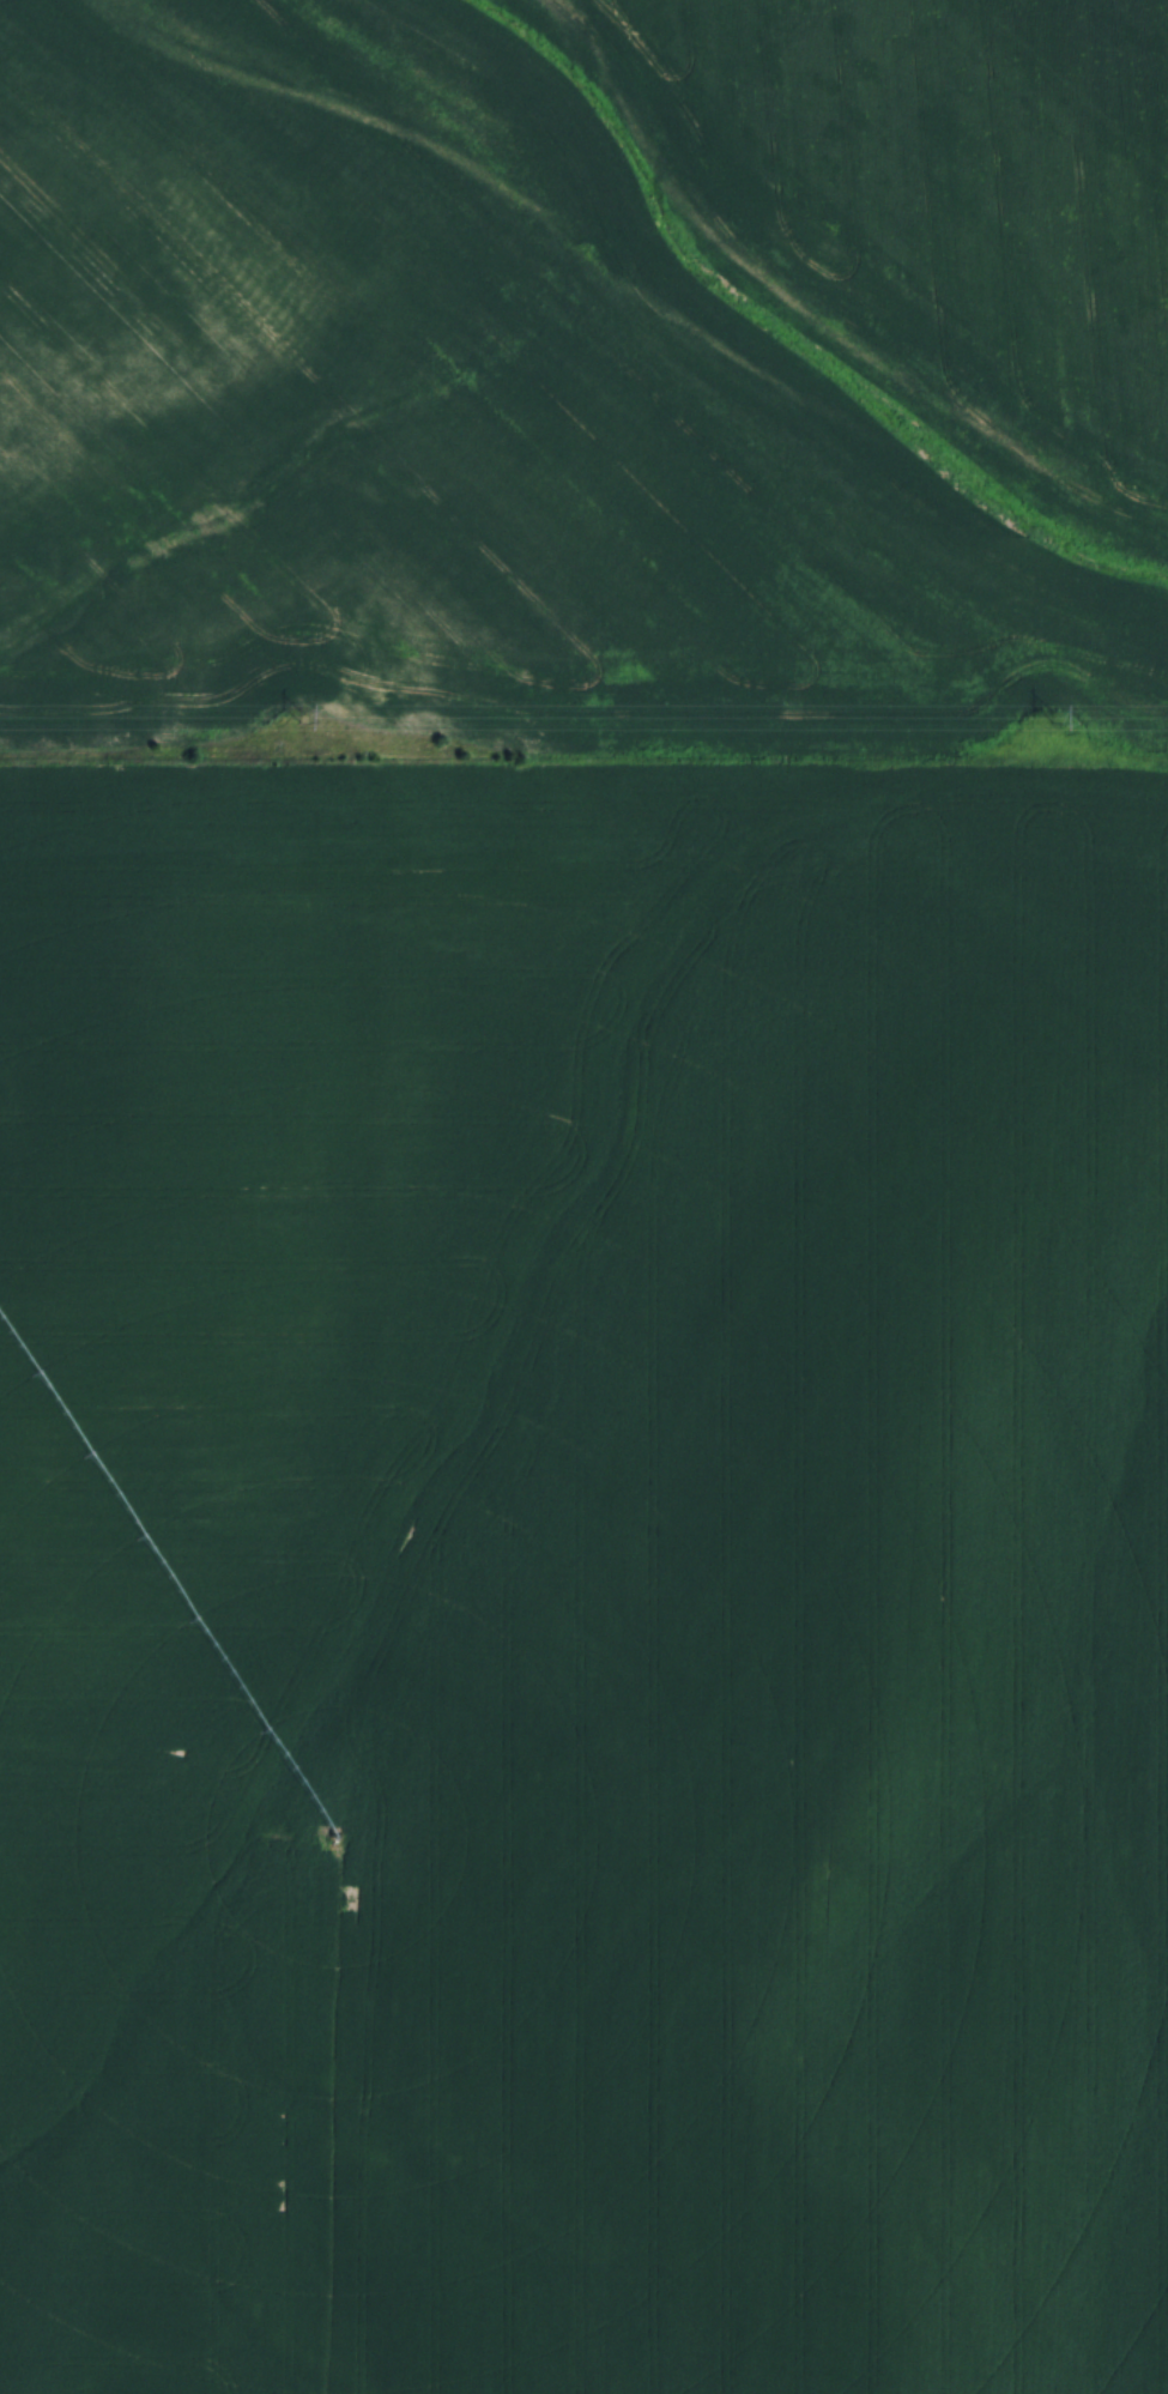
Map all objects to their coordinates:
power tower: (298, 712)
power tower: (1049, 713)

